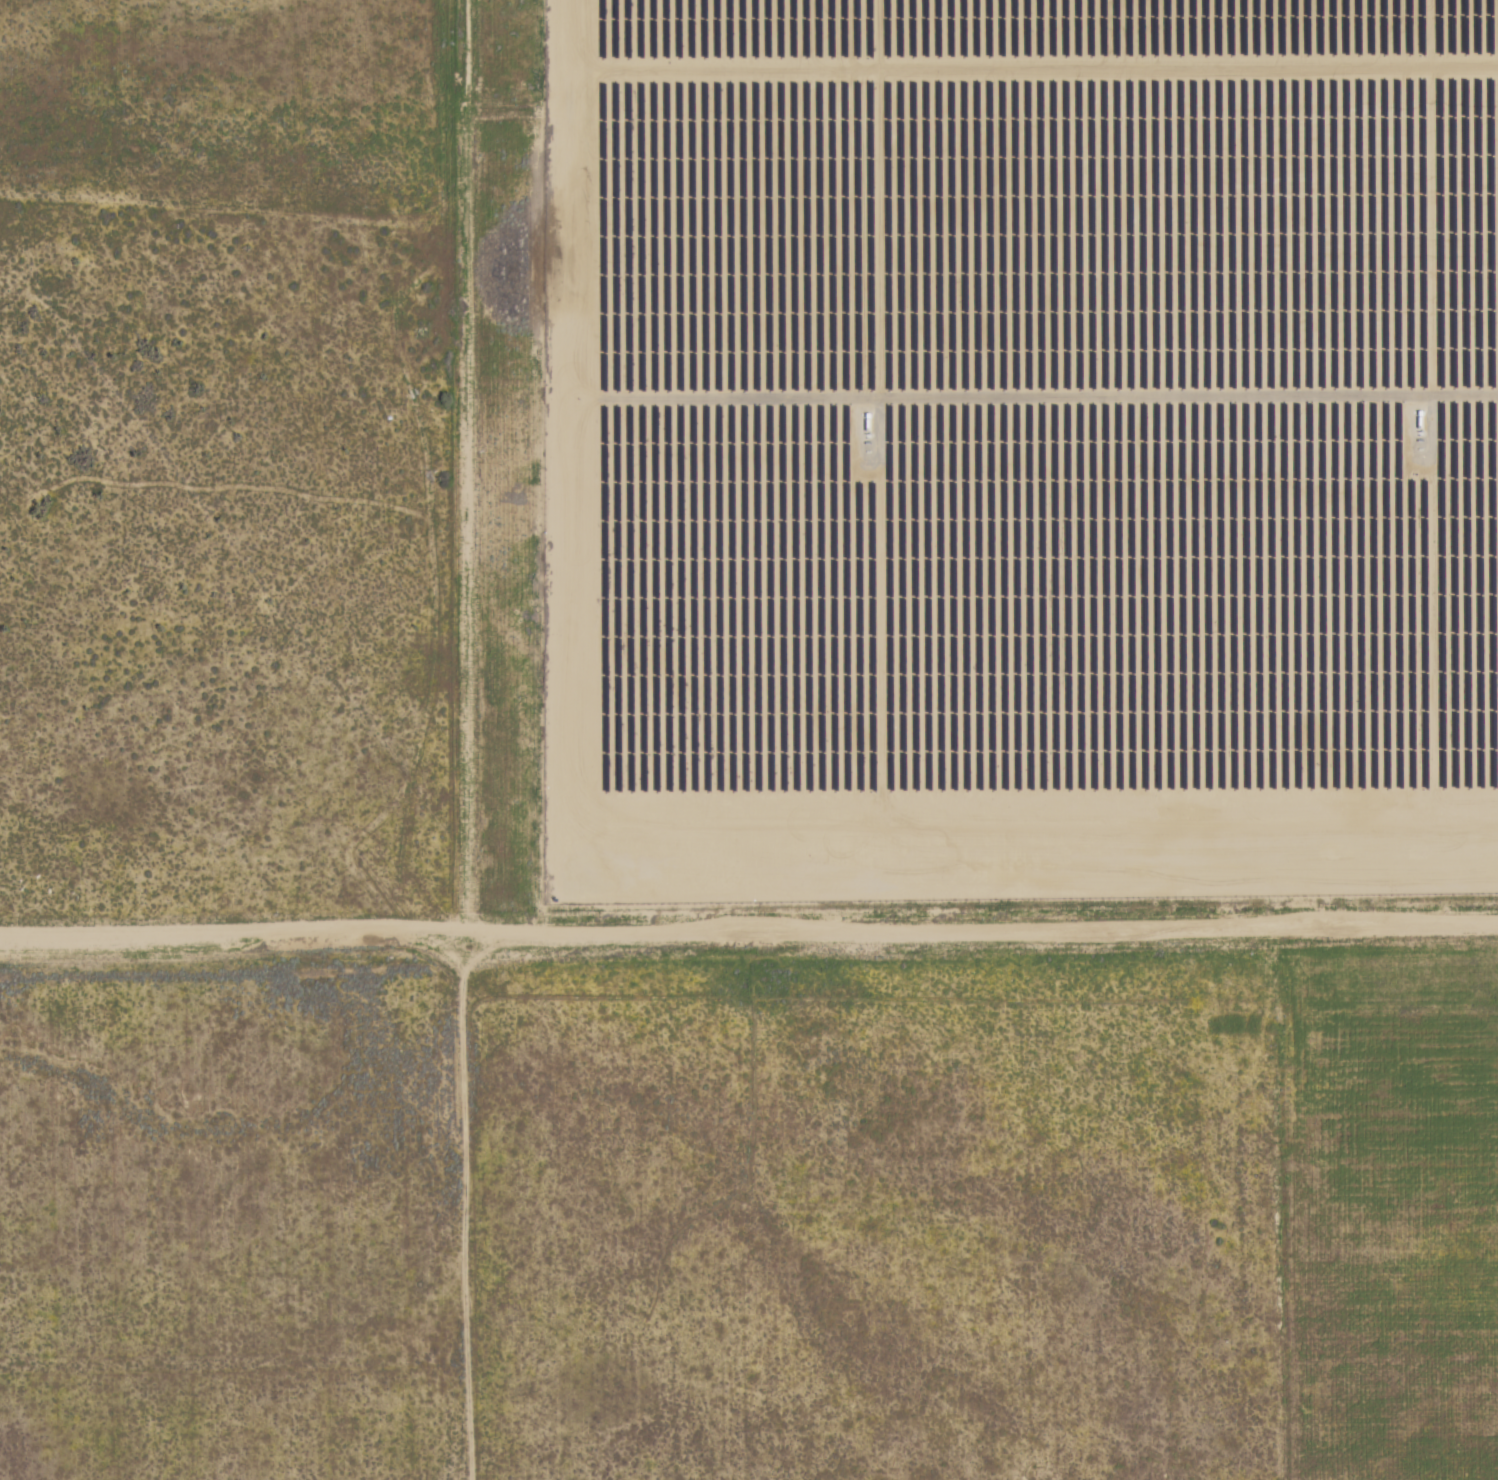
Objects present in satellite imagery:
solar farm: (1024, 446)
road: (464, 474)
road: (749, 943)
road: (466, 1214)

